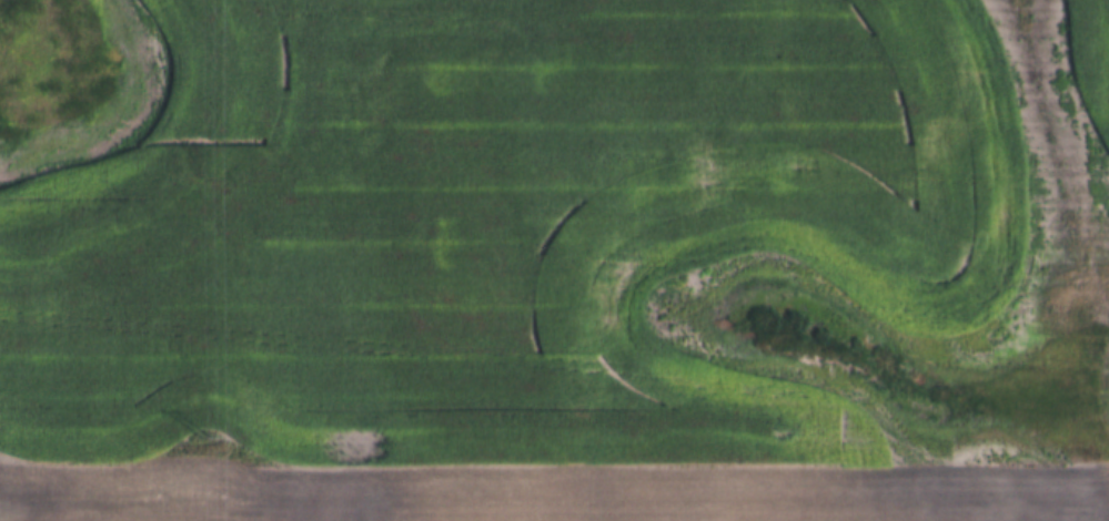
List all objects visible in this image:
power tower: (200, 432)

